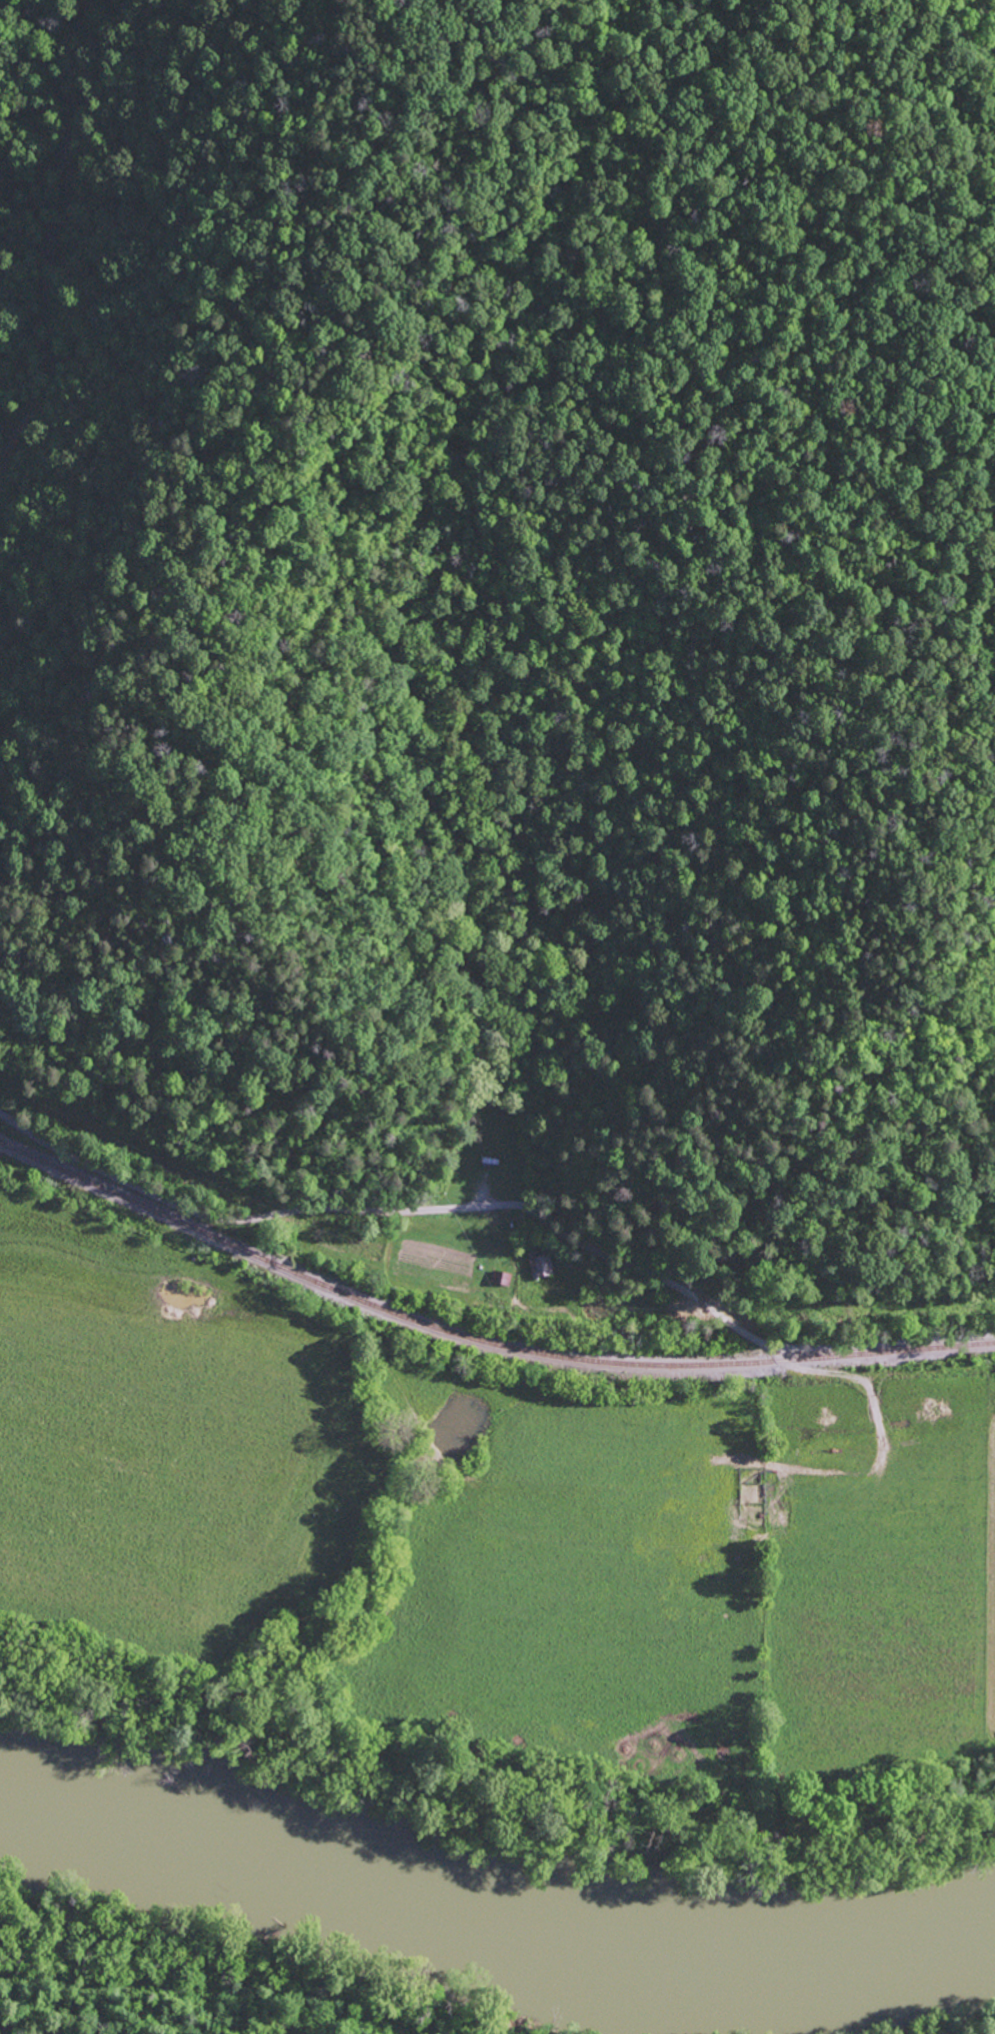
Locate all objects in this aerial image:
road: (503, 1205)
railway: (478, 1340)
river: (491, 1924)
road: (19, 2031)

